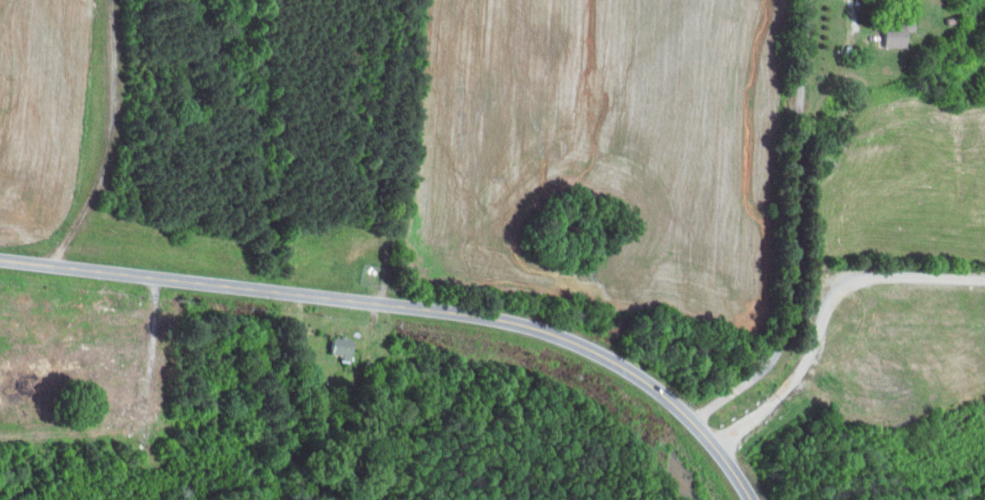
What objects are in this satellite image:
building: (891, 33)
road: (791, 231)
road: (893, 273)
road: (410, 308)
building: (336, 347)
road: (783, 392)

